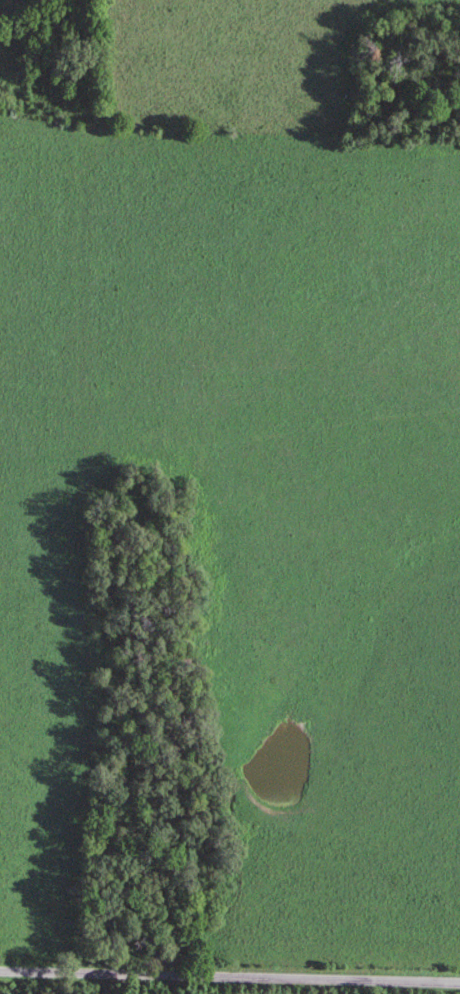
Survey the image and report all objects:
road: (230, 975)

